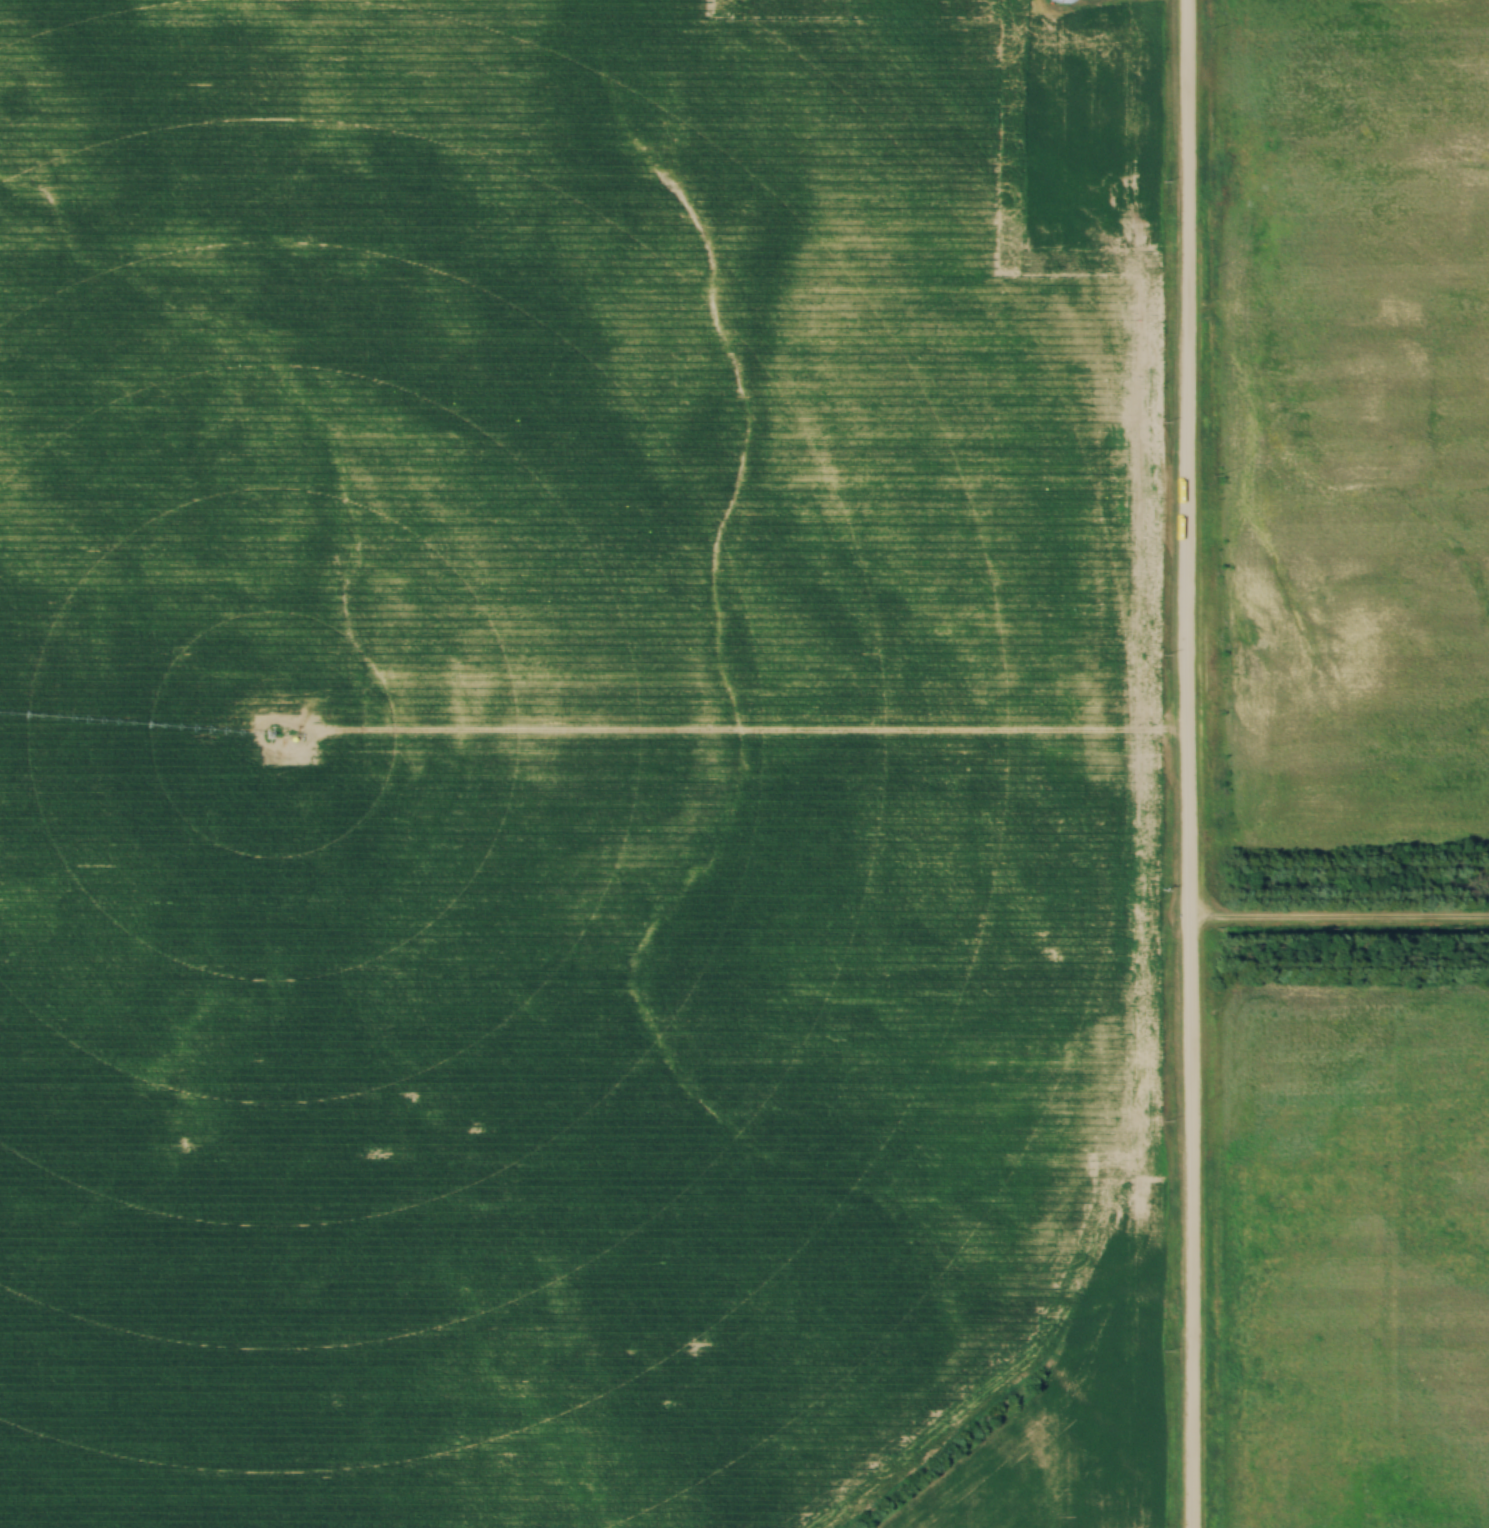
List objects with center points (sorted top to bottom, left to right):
building: (1056, 1)
road: (1187, 764)
road: (1338, 927)

